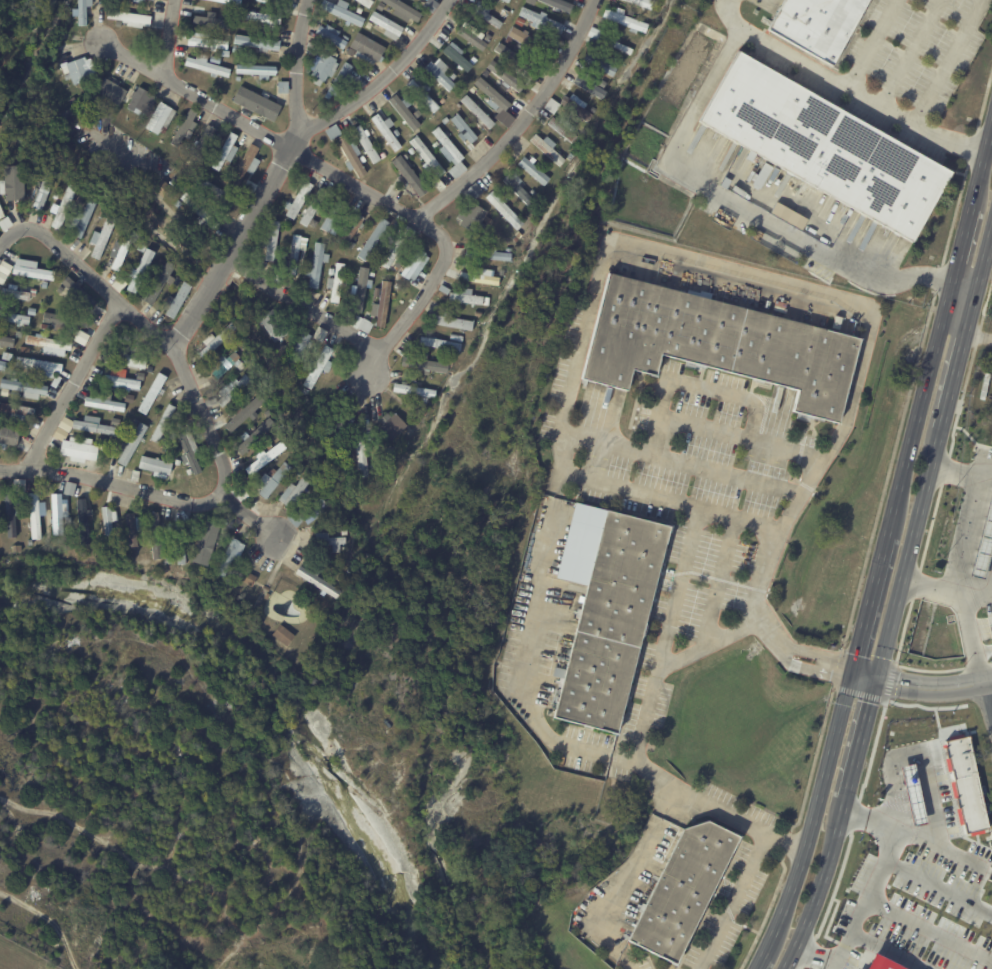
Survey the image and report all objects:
building: (146, 0)
building: (271, 0)
building: (282, 0)
building: (262, 1)
building: (507, 1)
building: (231, 2)
building: (531, 2)
building: (364, 3)
building: (642, 3)
building: (430, 5)
building: (559, 5)
building: (380, 6)
building: (358, 10)
building: (403, 10)
building: (343, 11)
building: (81, 12)
building: (504, 12)
building: (485, 13)
road: (728, 14)
building: (261, 17)
building: (130, 18)
building: (542, 20)
building: (211, 21)
building: (519, 21)
building: (625, 21)
building: (368, 24)
building: (387, 25)
building: (817, 25)
building: (595, 34)
building: (331, 36)
building: (471, 36)
road: (166, 38)
building: (487, 38)
building: (207, 42)
building: (257, 42)
building: (529, 42)
road: (871, 42)
building: (311, 45)
building: (366, 48)
road: (910, 51)
building: (457, 56)
building: (213, 59)
building: (514, 59)
building: (473, 60)
road: (947, 60)
building: (601, 64)
building: (207, 65)
road: (296, 65)
building: (324, 66)
building: (76, 68)
building: (255, 71)
building: (440, 73)
building: (451, 76)
building: (506, 76)
building: (490, 77)
building: (238, 79)
building: (340, 80)
building: (282, 87)
building: (589, 87)
building: (473, 89)
building: (112, 92)
road: (862, 92)
building: (424, 94)
building: (491, 94)
building: (438, 97)
building: (139, 99)
building: (72, 100)
building: (265, 102)
building: (493, 102)
building: (459, 105)
building: (552, 106)
building: (577, 109)
building: (405, 111)
building: (478, 112)
building: (418, 113)
building: (161, 119)
road: (520, 119)
building: (445, 120)
building: (184, 127)
building: (464, 129)
building: (562, 130)
building: (388, 131)
building: (332, 132)
road: (260, 135)
building: (24, 139)
building: (204, 141)
building: (367, 143)
building: (436, 144)
building: (826, 146)
building: (549, 148)
building: (225, 151)
building: (412, 151)
road: (284, 152)
building: (451, 153)
building: (353, 155)
building: (383, 155)
building: (406, 156)
building: (570, 157)
building: (203, 160)
building: (429, 160)
building: (245, 166)
building: (534, 170)
building: (410, 176)
building: (13, 182)
building: (162, 188)
building: (177, 188)
building: (41, 189)
building: (211, 189)
building: (516, 190)
building: (534, 193)
building: (54, 194)
building: (299, 199)
building: (177, 203)
road: (737, 204)
building: (63, 206)
building: (503, 208)
building: (198, 209)
building: (313, 209)
building: (1, 212)
building: (100, 214)
building: (788, 215)
building: (332, 216)
building: (81, 219)
building: (474, 219)
building: (488, 220)
building: (4, 222)
building: (351, 230)
building: (409, 232)
building: (102, 236)
road: (10, 237)
building: (374, 239)
building: (272, 240)
building: (120, 250)
building: (392, 251)
building: (490, 254)
building: (295, 256)
building: (317, 263)
building: (413, 265)
road: (722, 267)
building: (139, 268)
building: (4, 270)
building: (33, 271)
building: (330, 271)
building: (371, 273)
building: (477, 278)
building: (159, 280)
building: (338, 281)
building: (118, 283)
road: (966, 283)
building: (397, 285)
building: (442, 288)
building: (61, 289)
building: (361, 289)
road: (422, 289)
building: (79, 292)
building: (376, 292)
building: (16, 294)
building: (467, 296)
building: (177, 299)
building: (382, 305)
road: (309, 307)
building: (31, 310)
building: (477, 312)
building: (217, 315)
building: (12, 316)
building: (57, 320)
building: (450, 320)
building: (274, 324)
building: (365, 325)
road: (955, 327)
building: (0, 330)
building: (19, 333)
road: (979, 333)
building: (323, 335)
building: (454, 336)
building: (81, 337)
building: (216, 341)
building: (7, 342)
building: (440, 343)
building: (48, 344)
building: (717, 344)
building: (300, 347)
building: (24, 349)
building: (105, 356)
building: (131, 356)
building: (449, 360)
building: (0, 362)
building: (225, 364)
building: (423, 364)
building: (38, 366)
road: (178, 367)
building: (319, 367)
building: (148, 368)
building: (243, 368)
building: (15, 371)
building: (239, 372)
building: (297, 372)
building: (59, 379)
building: (121, 380)
road: (74, 385)
building: (27, 389)
building: (413, 389)
road: (713, 389)
building: (304, 390)
building: (228, 391)
building: (252, 392)
building: (152, 394)
building: (127, 398)
building: (304, 399)
building: (374, 401)
building: (105, 403)
building: (423, 409)
building: (17, 410)
building: (243, 414)
building: (188, 417)
building: (114, 420)
building: (163, 422)
building: (65, 424)
building: (412, 424)
building: (95, 427)
building: (392, 427)
road: (723, 430)
building: (337, 432)
building: (59, 434)
building: (9, 436)
building: (251, 438)
building: (101, 441)
building: (133, 444)
building: (267, 445)
building: (334, 447)
building: (76, 449)
building: (190, 451)
building: (360, 453)
building: (264, 456)
building: (345, 456)
road: (685, 461)
building: (154, 465)
building: (298, 472)
road: (963, 473)
building: (272, 479)
building: (18, 483)
road: (114, 484)
building: (200, 484)
building: (69, 488)
building: (293, 490)
building: (242, 495)
road: (670, 497)
building: (11, 513)
building: (55, 513)
building: (315, 513)
building: (35, 514)
building: (82, 520)
building: (109, 521)
building: (131, 528)
building: (342, 531)
road: (963, 534)
building: (156, 535)
building: (118, 537)
building: (207, 537)
building: (328, 541)
building: (29, 542)
building: (179, 542)
building: (982, 543)
gas station: (982, 543)
building: (16, 549)
road: (883, 555)
building: (228, 556)
building: (200, 557)
building: (167, 561)
building: (246, 577)
road: (718, 581)
building: (319, 583)
road: (762, 585)
road: (932, 587)
road: (680, 588)
building: (266, 596)
road: (979, 596)
road: (896, 603)
building: (610, 623)
road: (518, 632)
building: (282, 635)
road: (970, 638)
traffic signals: (852, 670)
traffic signals: (877, 676)
road: (921, 685)
road: (988, 698)
road: (636, 752)
building: (913, 794)
road: (632, 880)
road: (943, 880)
road: (877, 889)
building: (682, 893)
road: (731, 901)
road: (934, 920)
road: (903, 947)
building: (883, 963)
road: (840, 964)

